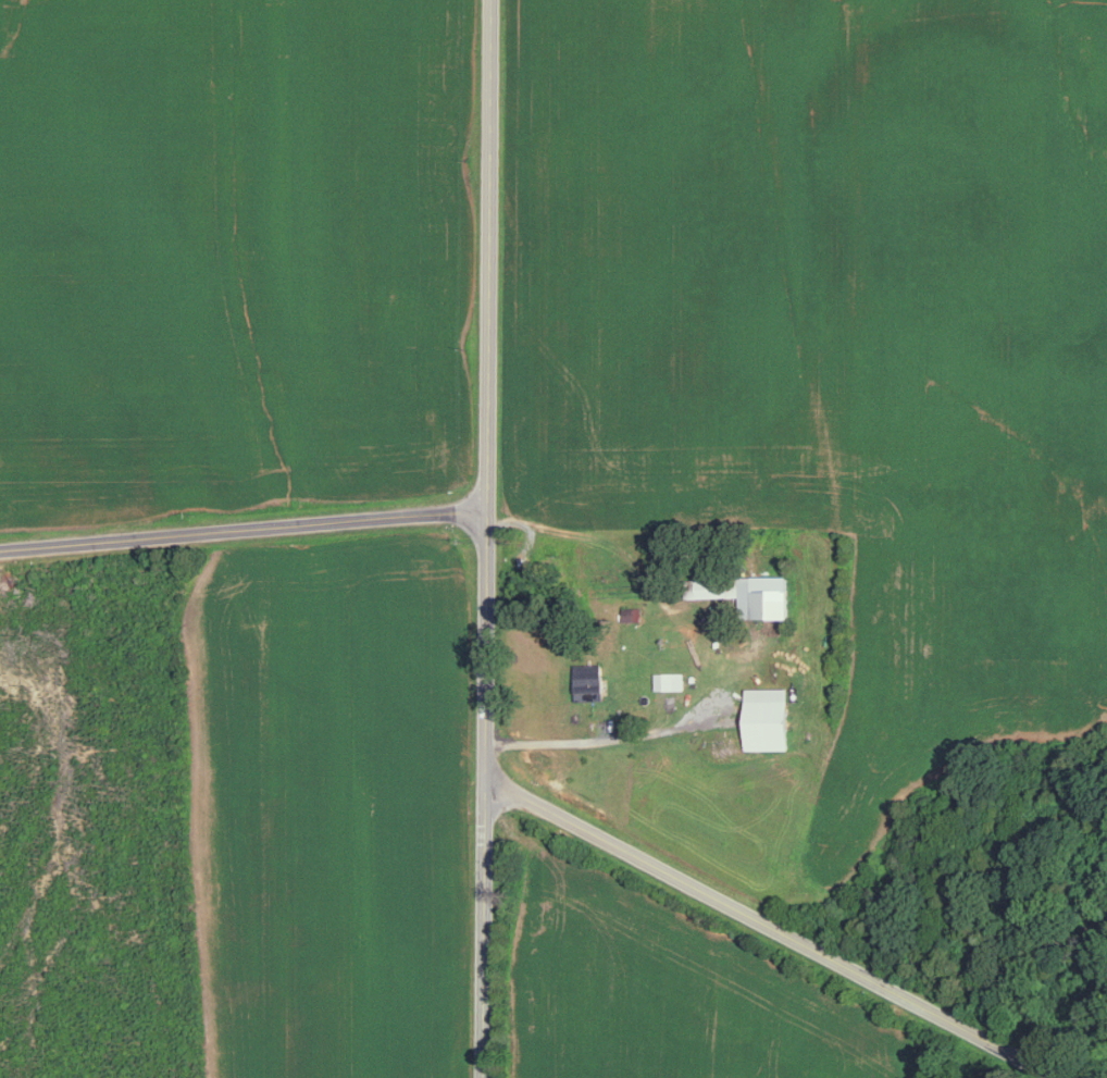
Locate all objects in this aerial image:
road: (244, 529)
road: (487, 538)
building: (714, 587)
building: (772, 595)
building: (589, 679)
building: (670, 679)
building: (769, 717)
road: (609, 739)
road: (786, 916)

